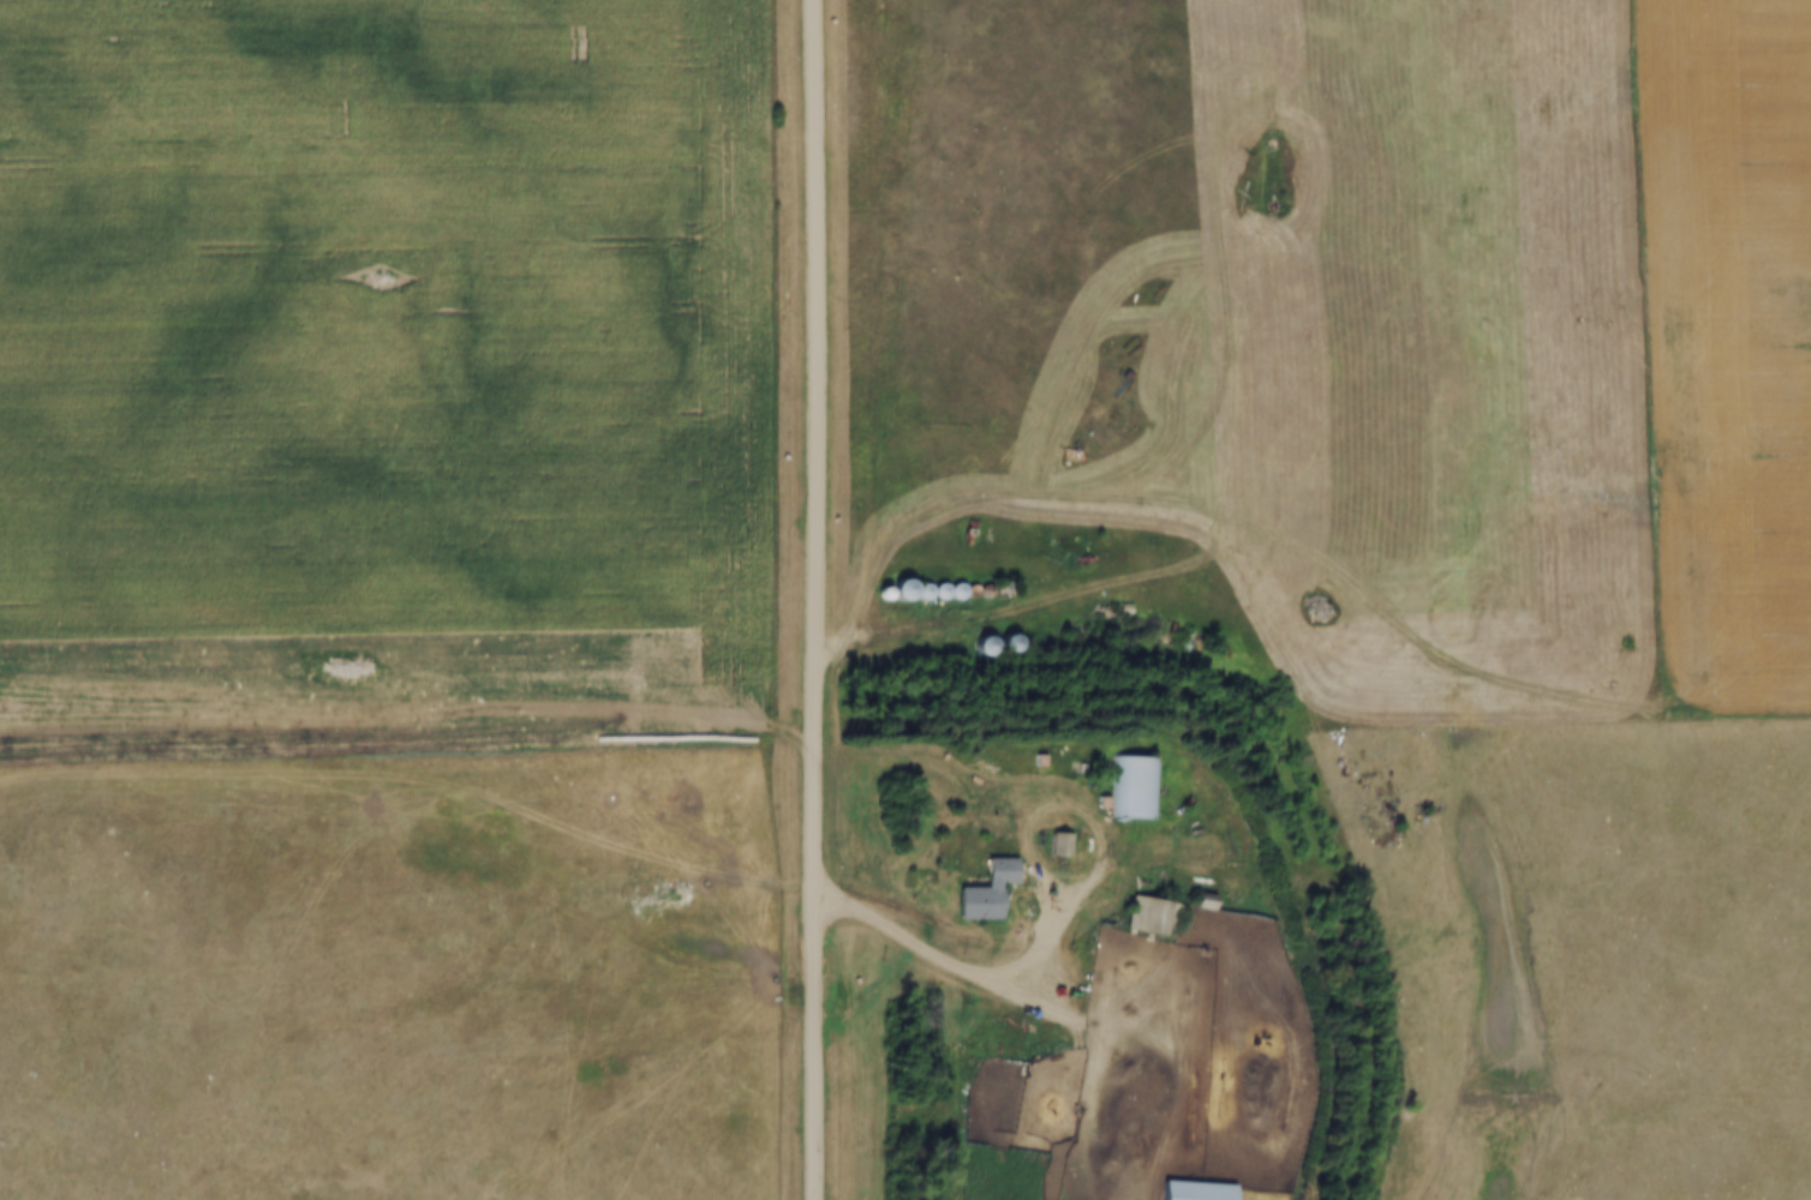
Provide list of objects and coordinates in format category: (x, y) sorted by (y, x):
road: (1126, 586)
road: (817, 599)
building: (999, 644)
road: (1433, 646)
road: (408, 727)
building: (1135, 788)
building: (1054, 846)
building: (978, 892)
road: (1072, 898)
building: (1148, 917)
road: (954, 966)
road: (957, 1085)
building: (1189, 1192)

